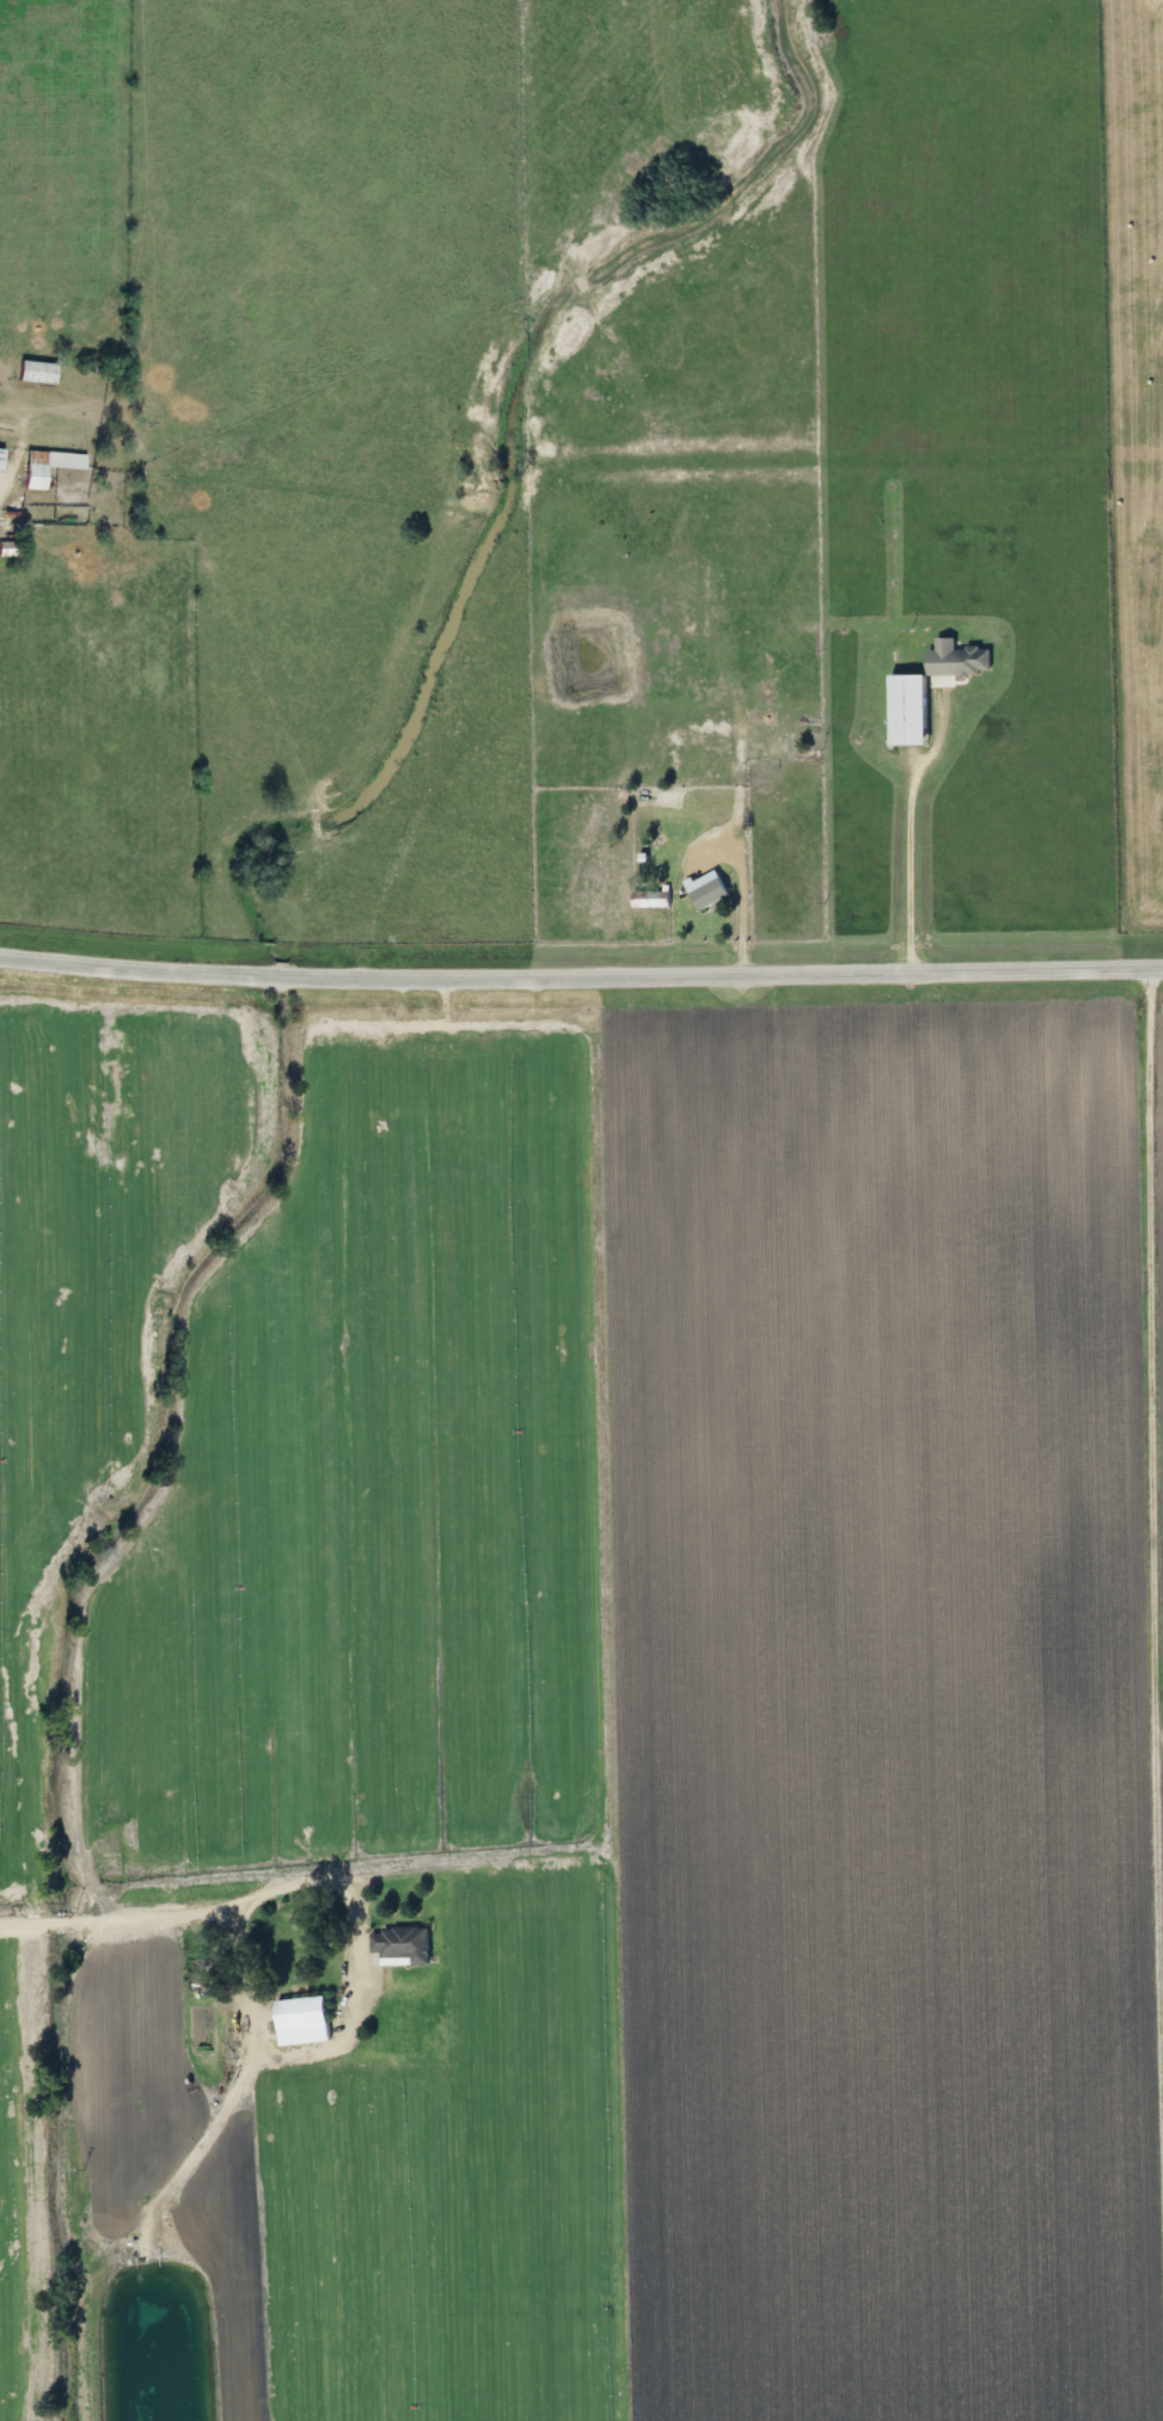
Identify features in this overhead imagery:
building: (26, 372)
building: (37, 465)
building: (5, 548)
building: (962, 661)
building: (898, 709)
road: (904, 821)
building: (699, 889)
building: (644, 899)
road: (581, 974)
road: (1151, 1598)
road: (239, 1898)
building: (393, 1944)
building: (294, 2021)

